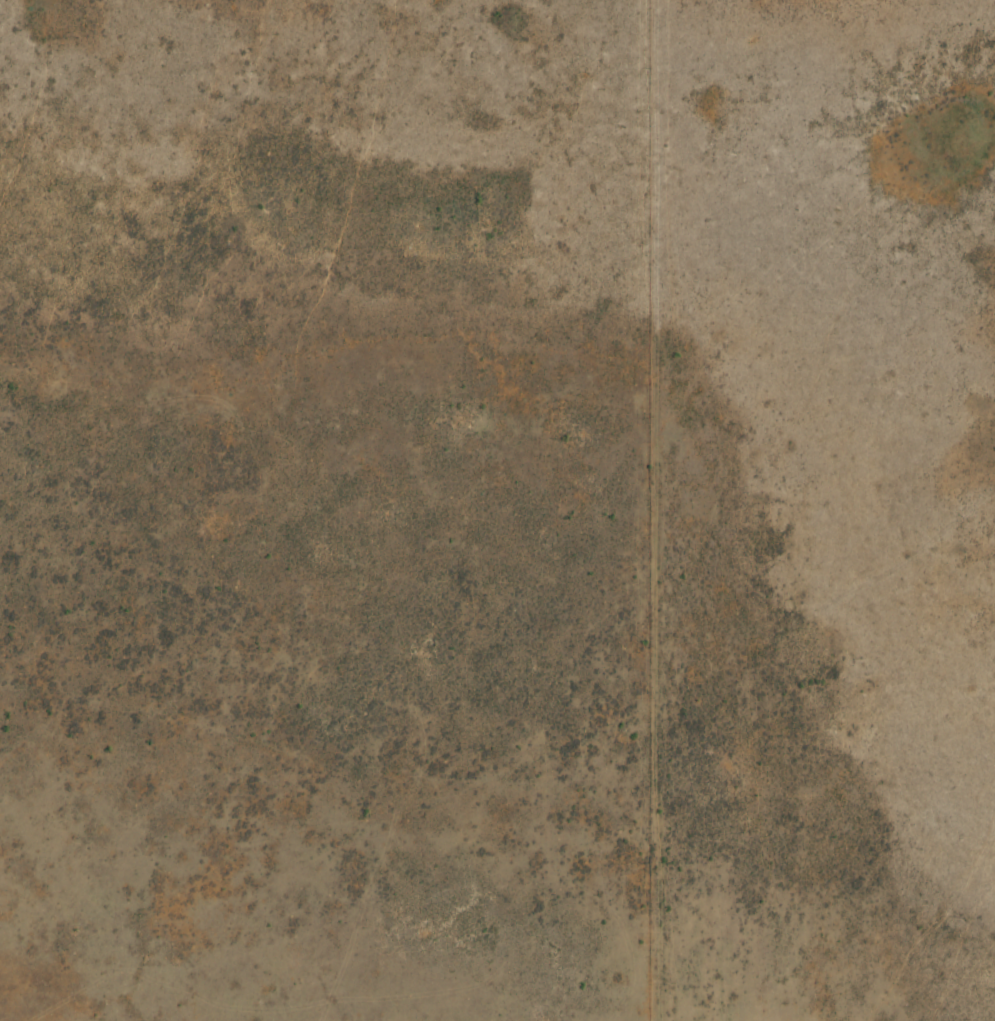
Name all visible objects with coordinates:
road: (667, 510)

